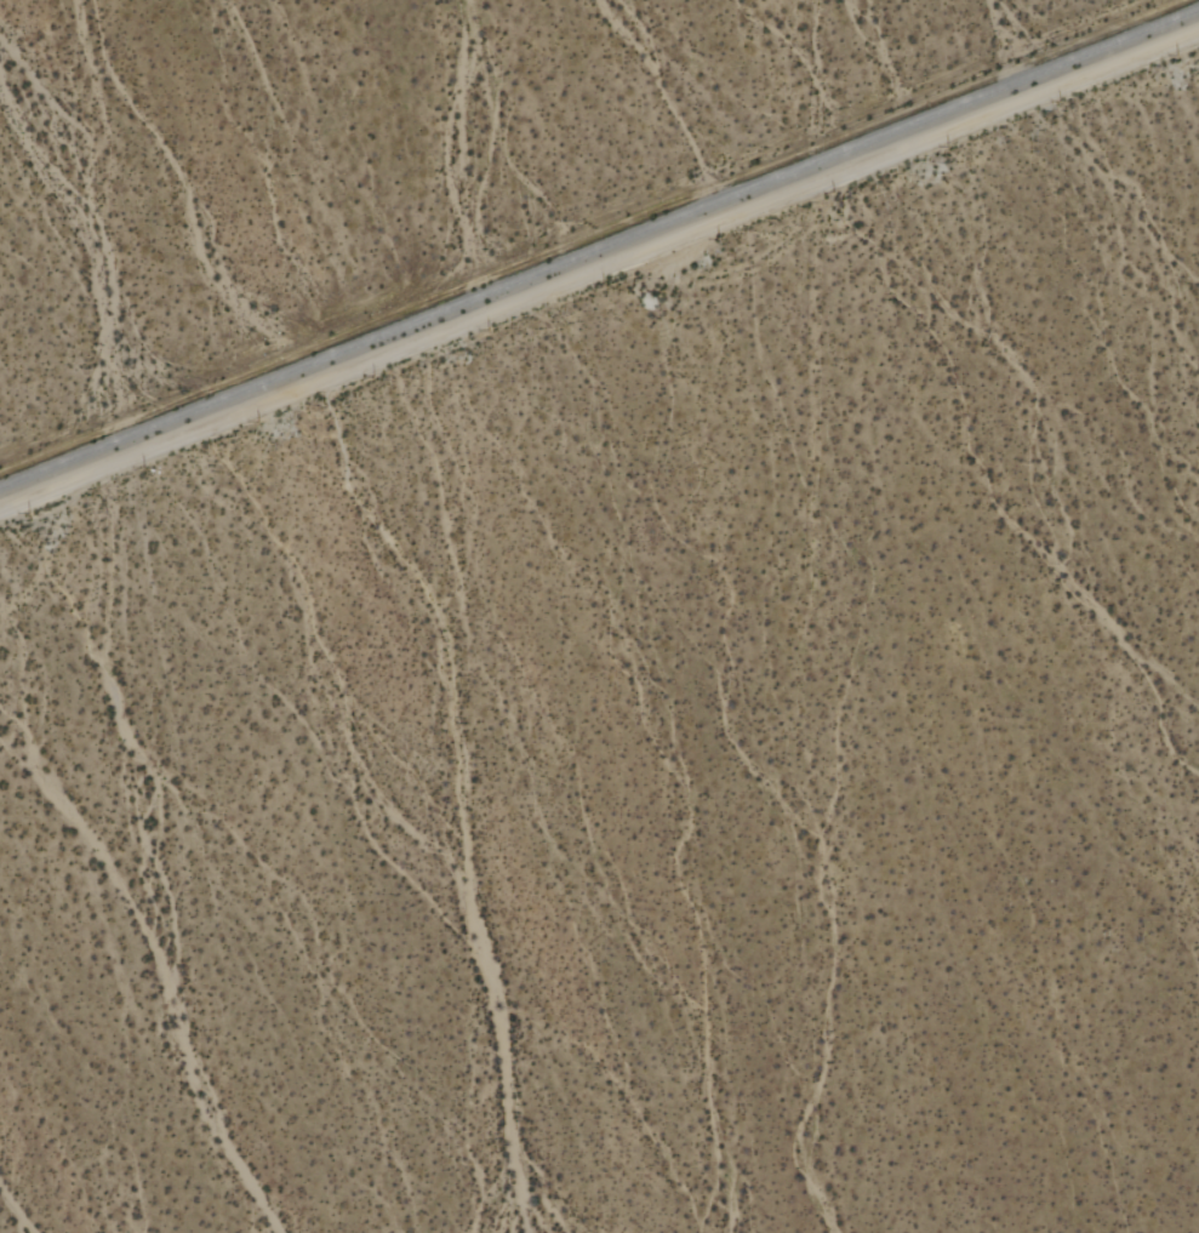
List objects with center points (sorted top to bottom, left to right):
railway: (599, 241)
road: (598, 267)

